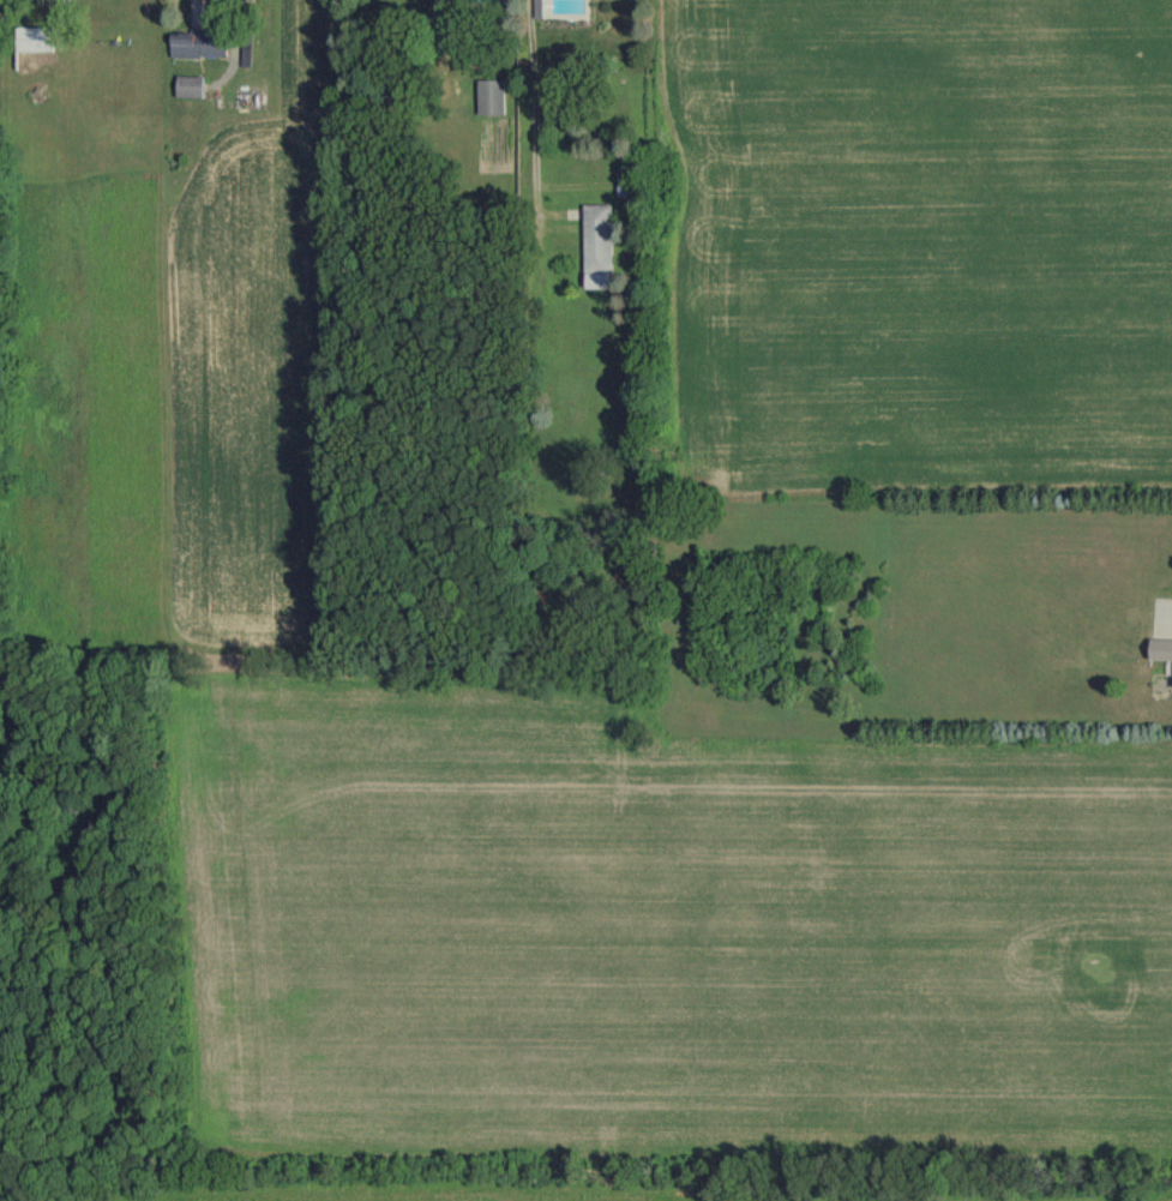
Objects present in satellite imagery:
road: (210, 14)
building: (31, 41)
building: (198, 43)
building: (247, 50)
building: (190, 85)
building: (489, 97)
building: (623, 175)
building: (595, 245)
building: (1160, 649)

